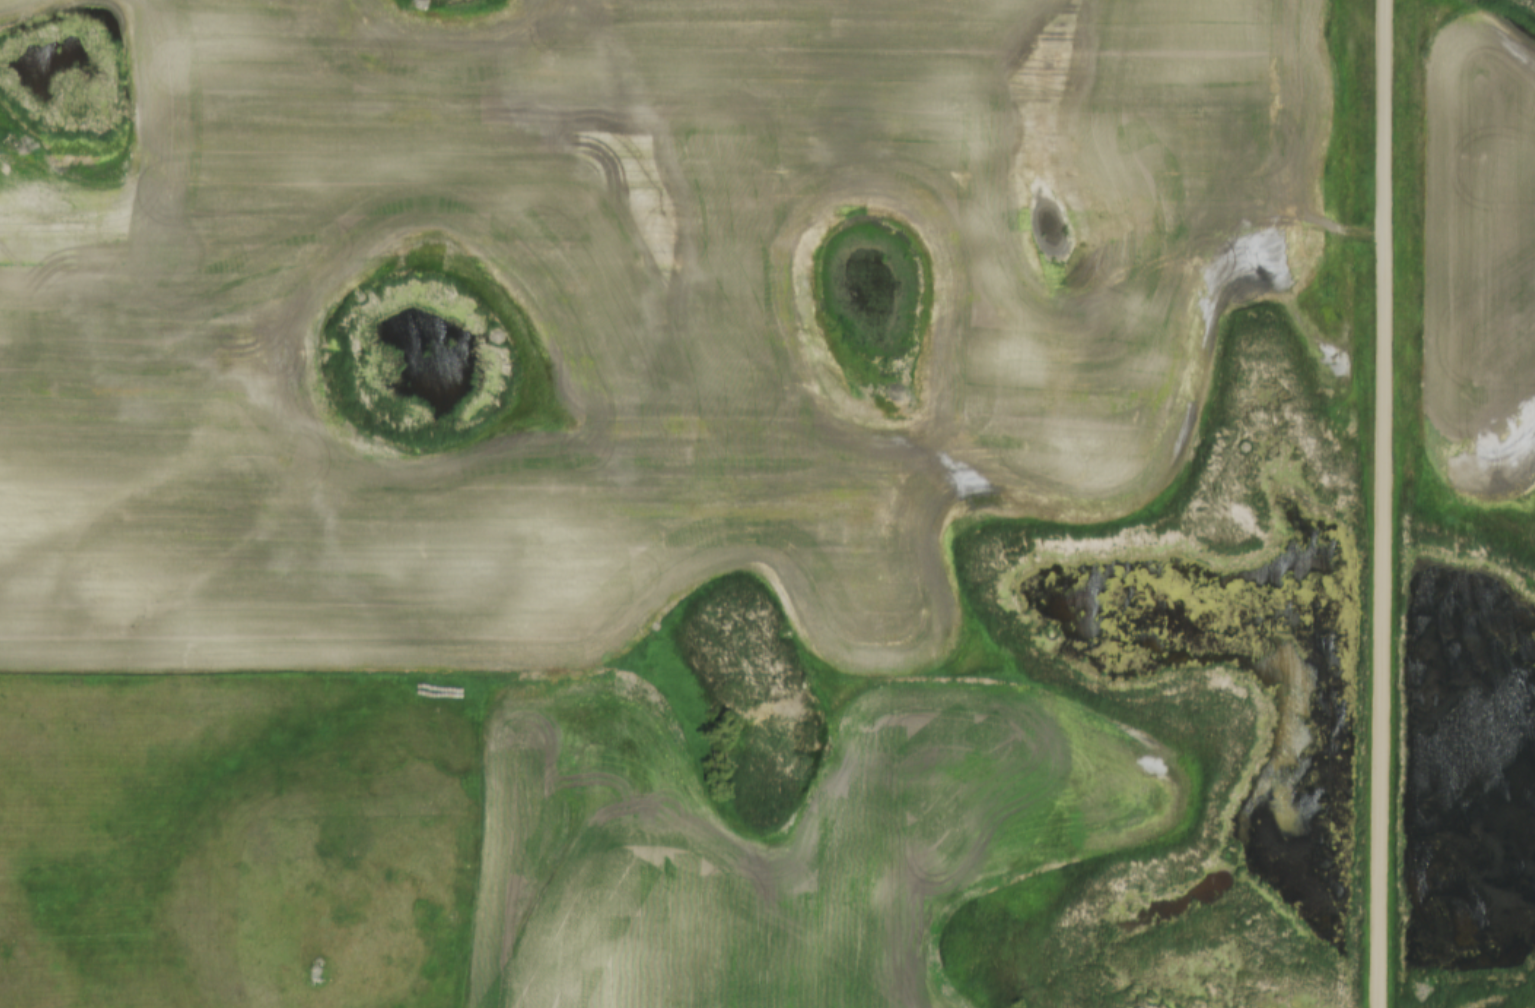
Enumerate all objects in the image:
road: (1385, 504)

